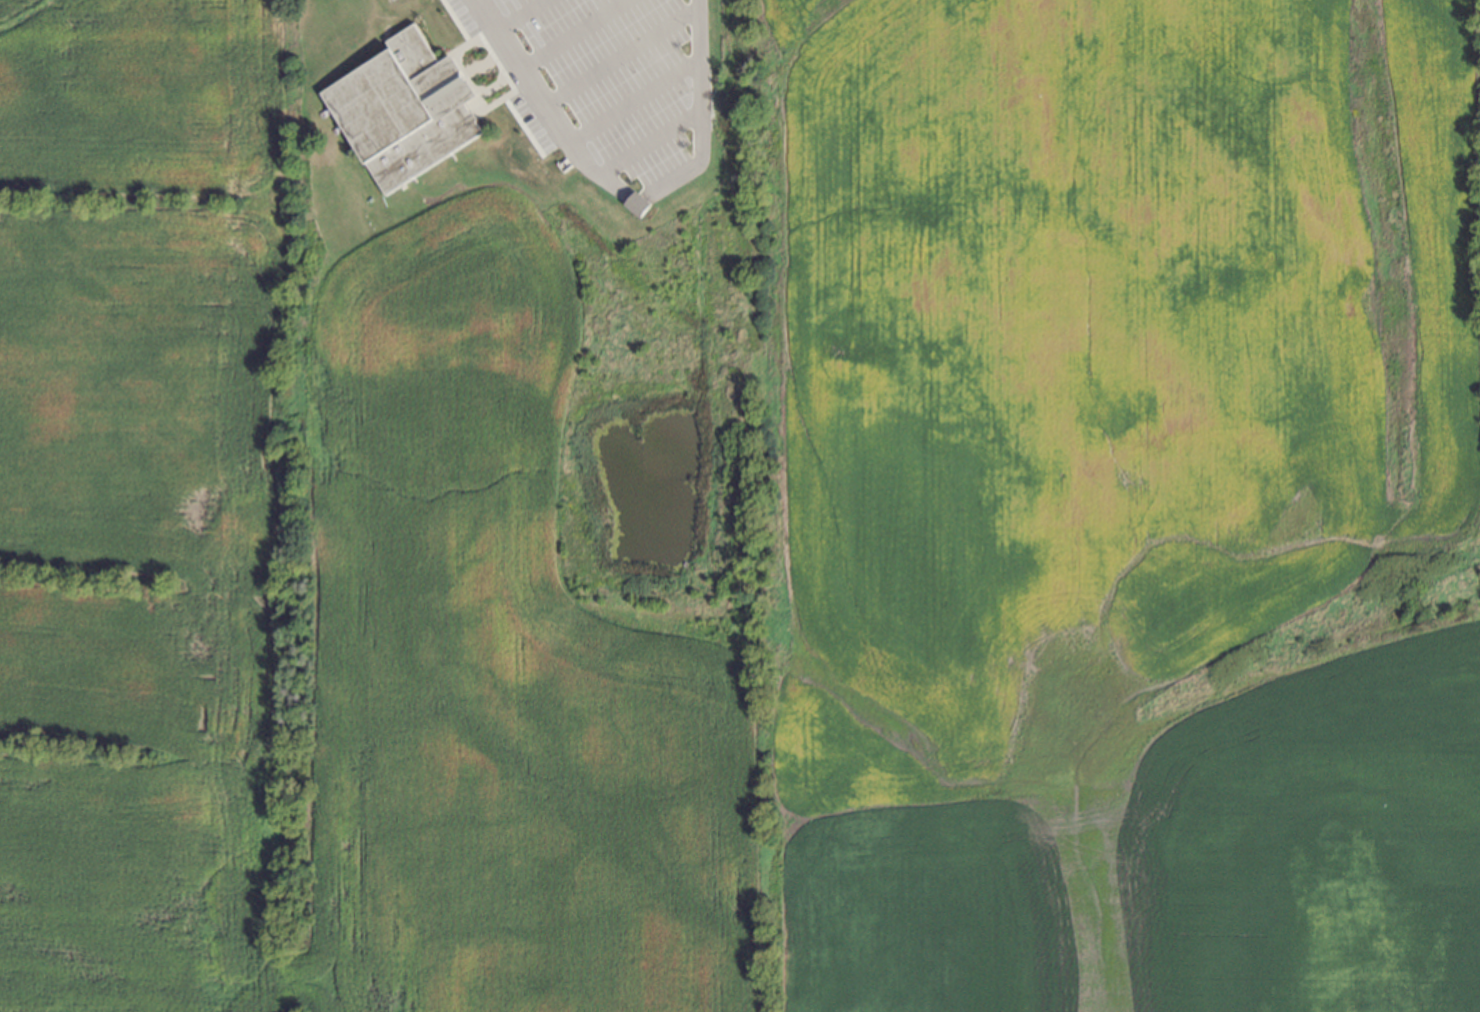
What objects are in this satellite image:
building: (404, 106)
road: (607, 170)
building: (638, 204)

